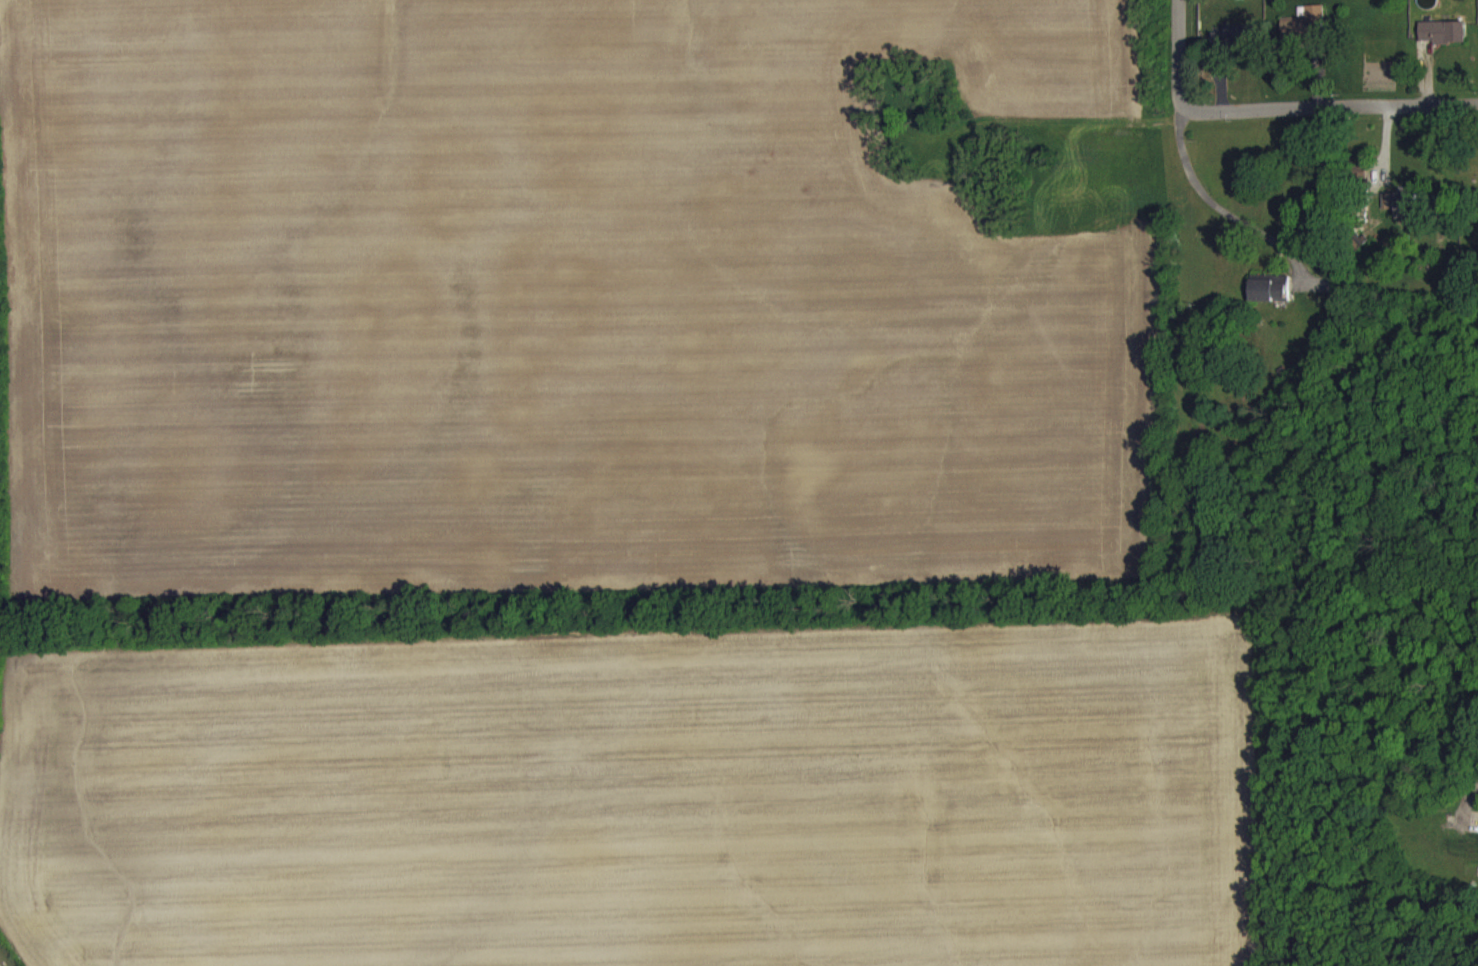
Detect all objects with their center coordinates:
building: (1304, 36)
building: (1443, 43)
road: (1178, 57)
road: (1328, 110)
road: (1212, 202)
building: (1402, 213)
building: (1270, 299)
road: (1467, 811)

